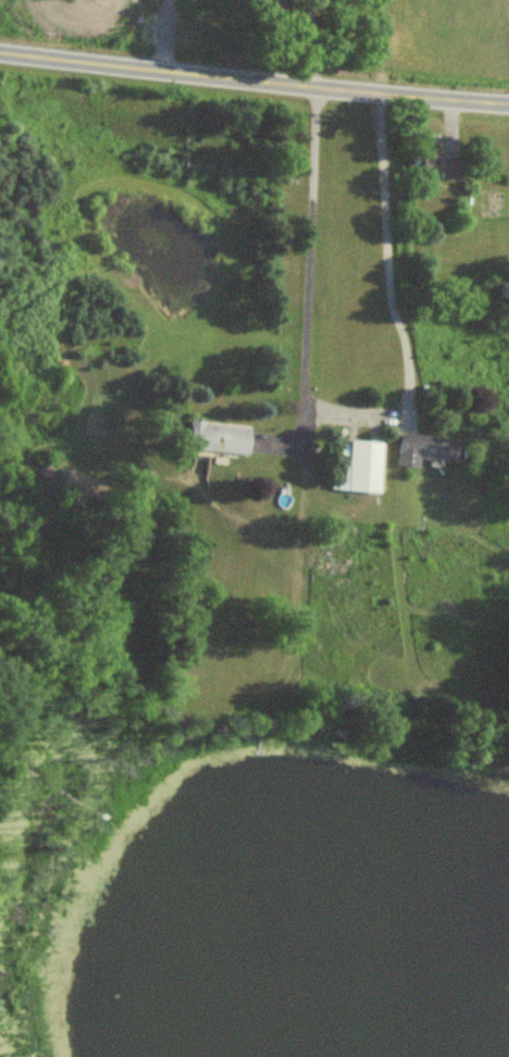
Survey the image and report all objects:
building: (270, 1)
road: (306, 42)
road: (253, 80)
building: (437, 165)
road: (309, 260)
building: (504, 291)
road: (389, 306)
road: (278, 437)
building: (218, 438)
building: (425, 450)
building: (357, 468)

